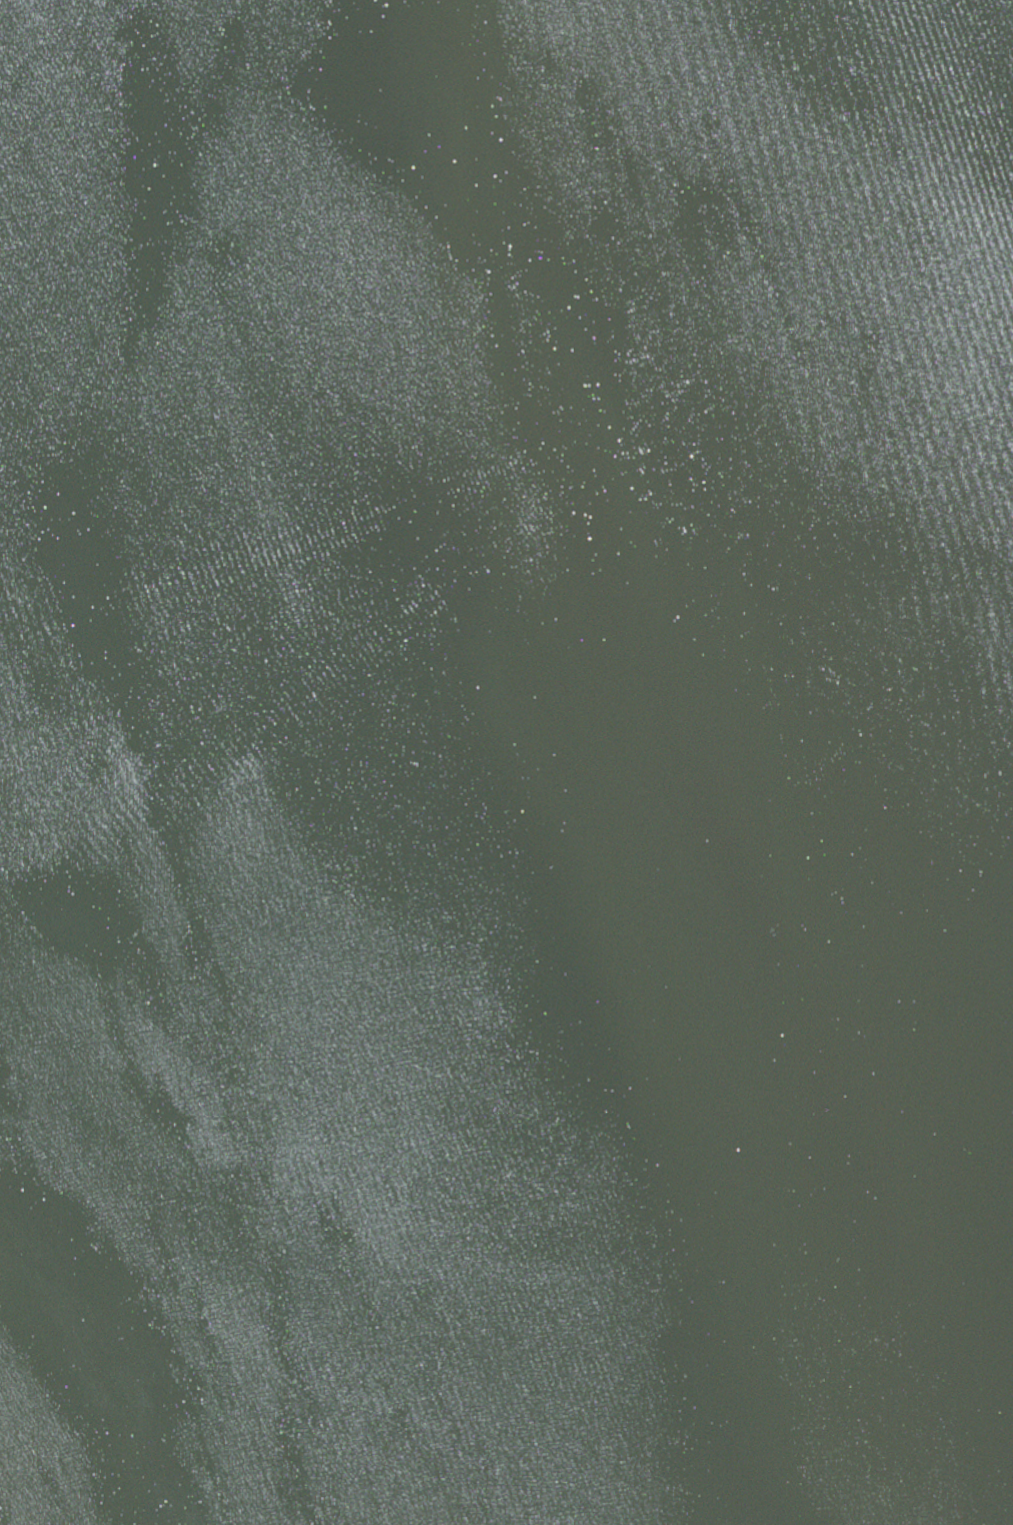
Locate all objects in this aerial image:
river: (776, 577)

